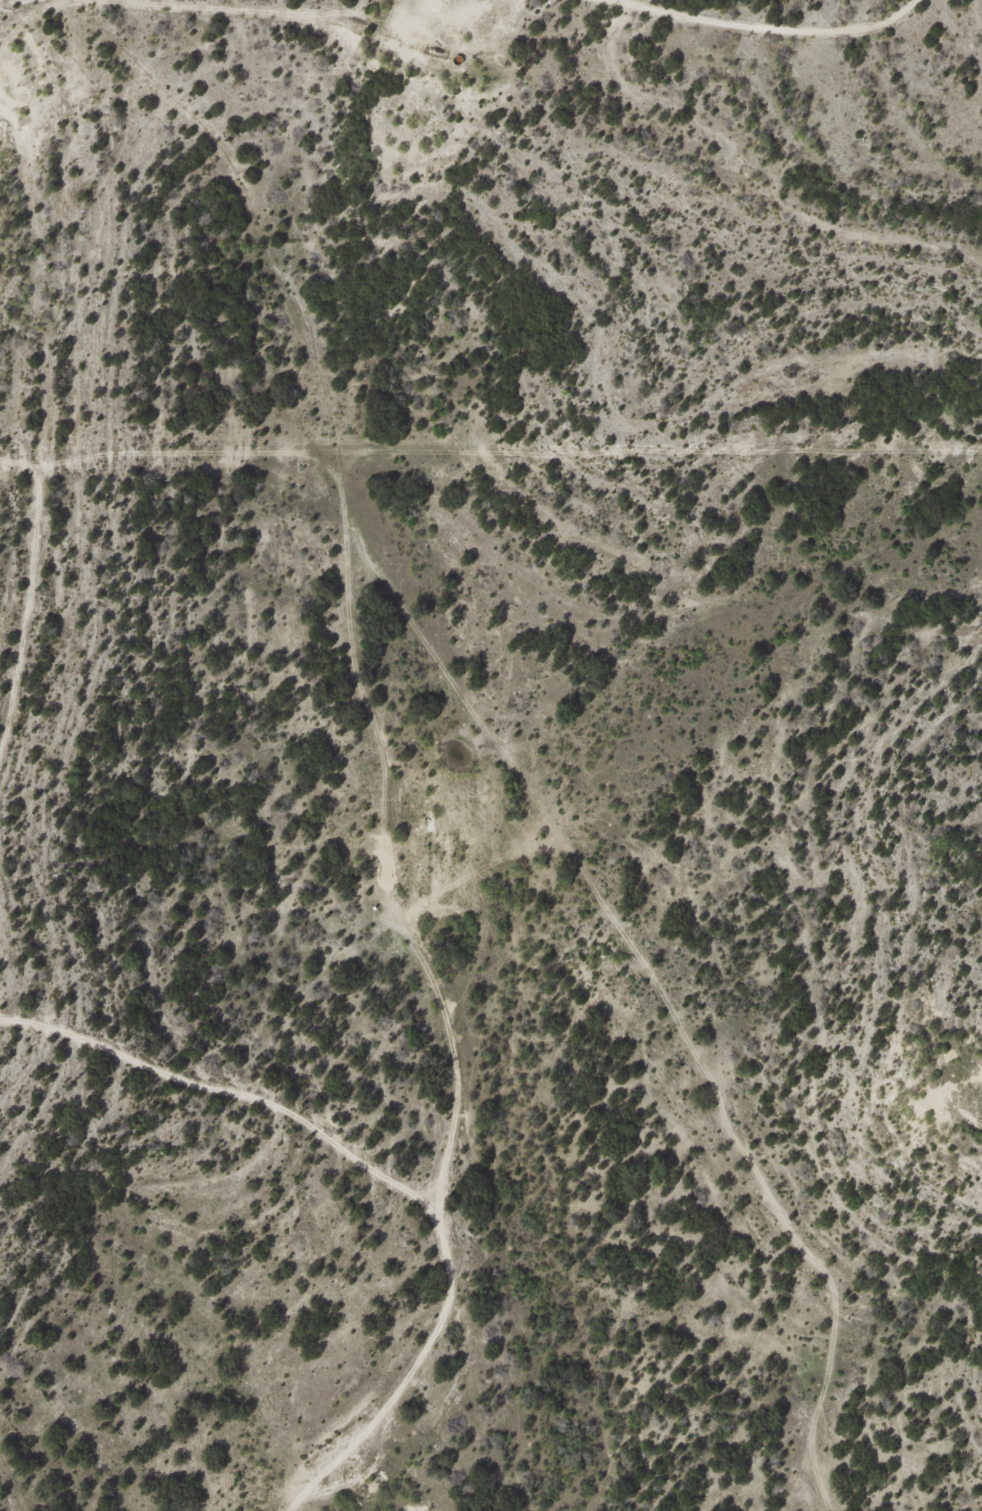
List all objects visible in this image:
road: (752, 31)

